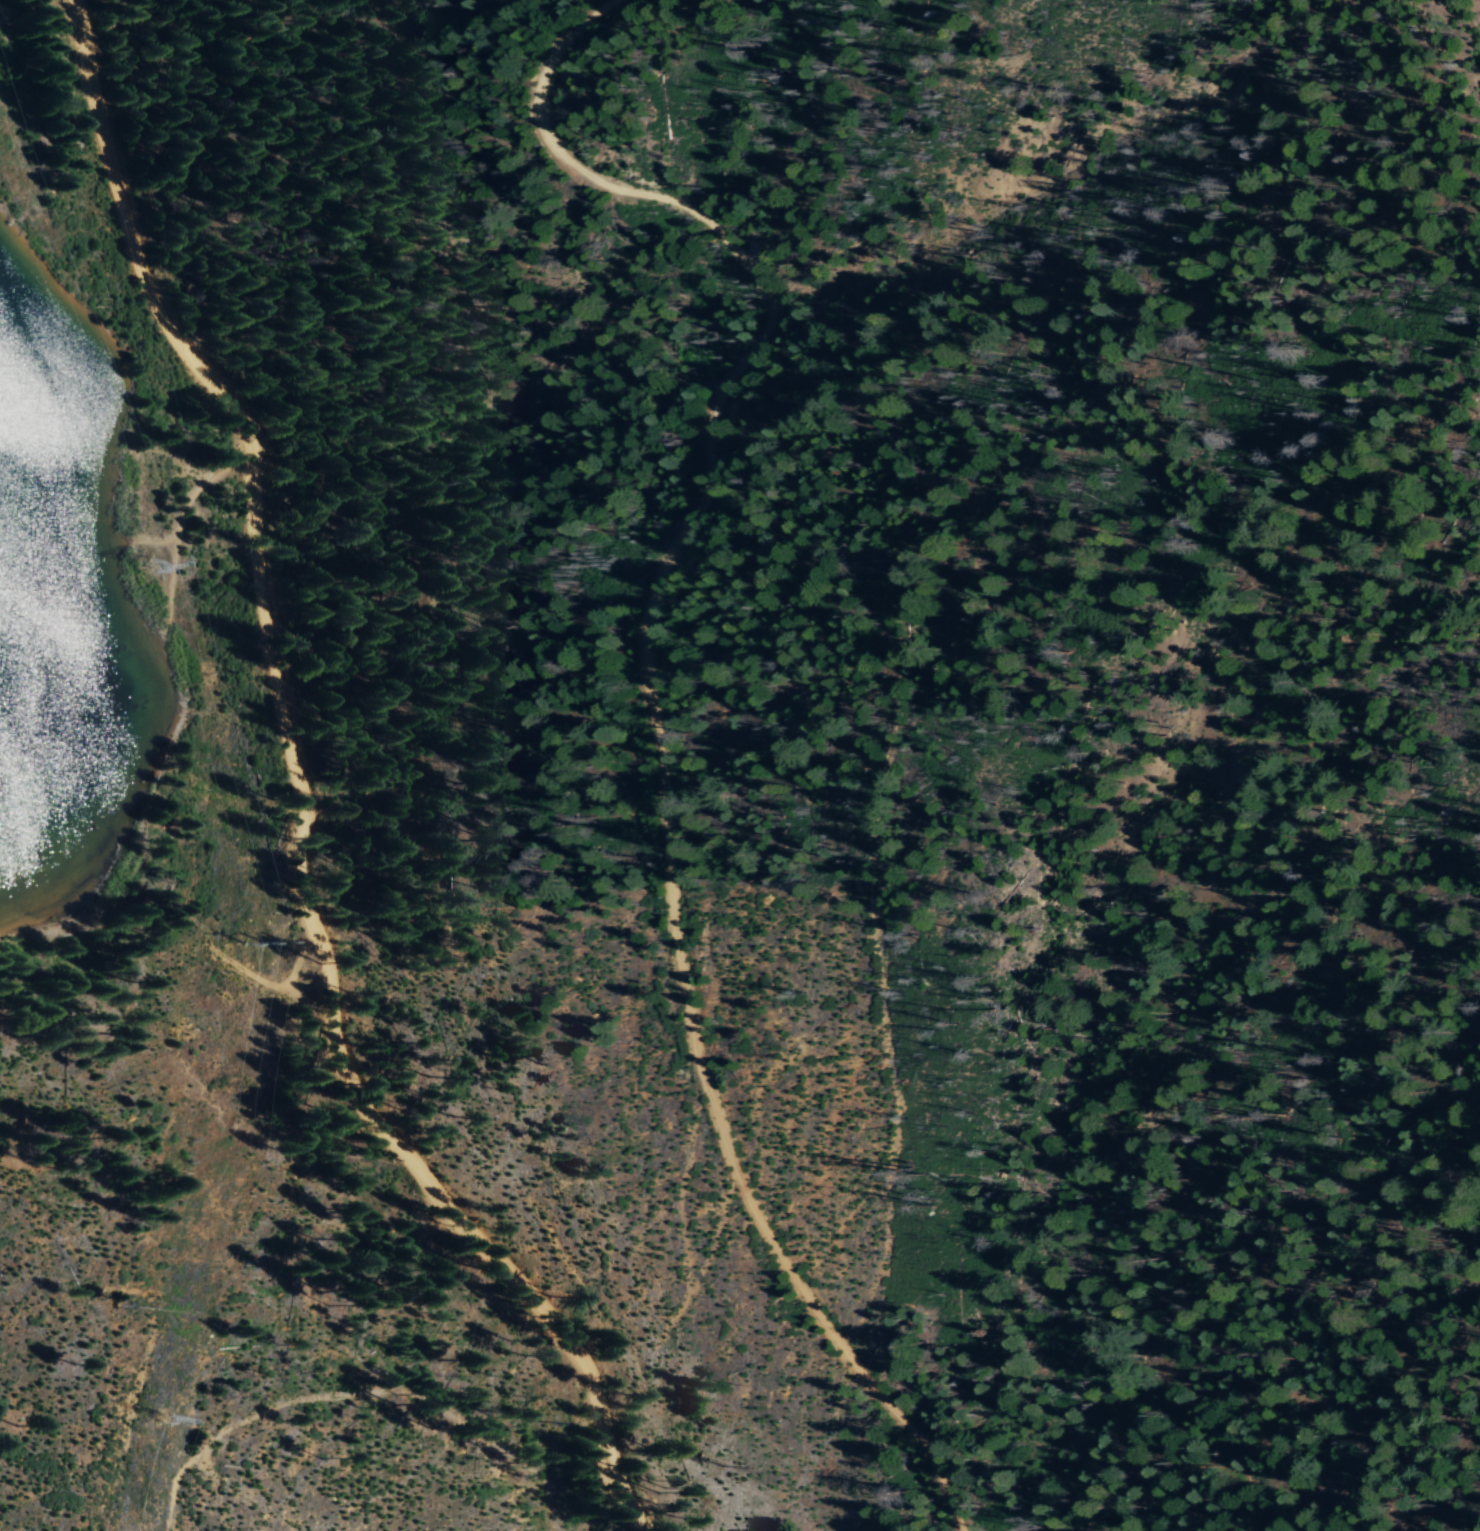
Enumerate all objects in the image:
power tower: (139, 567)
road: (643, 706)
road: (296, 795)
power tower: (262, 946)
power tower: (157, 1419)

